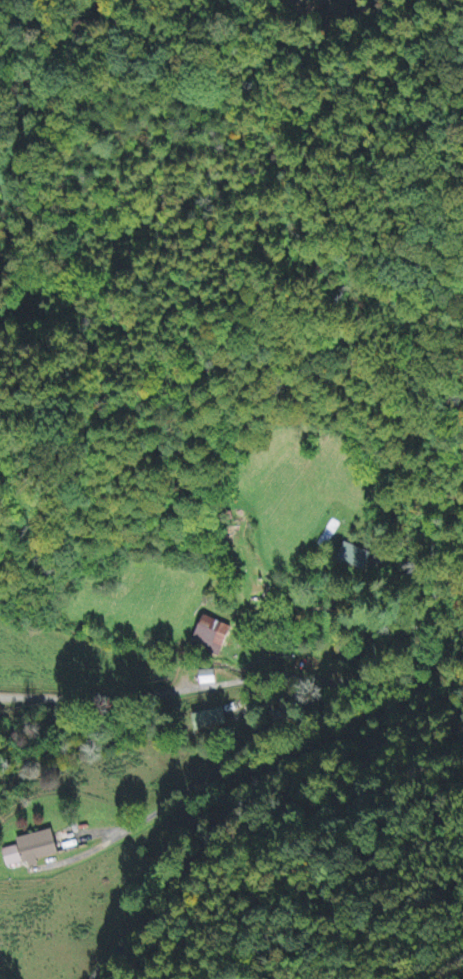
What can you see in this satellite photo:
building: (354, 557)
building: (207, 637)
road: (145, 692)
building: (212, 720)
building: (26, 851)

